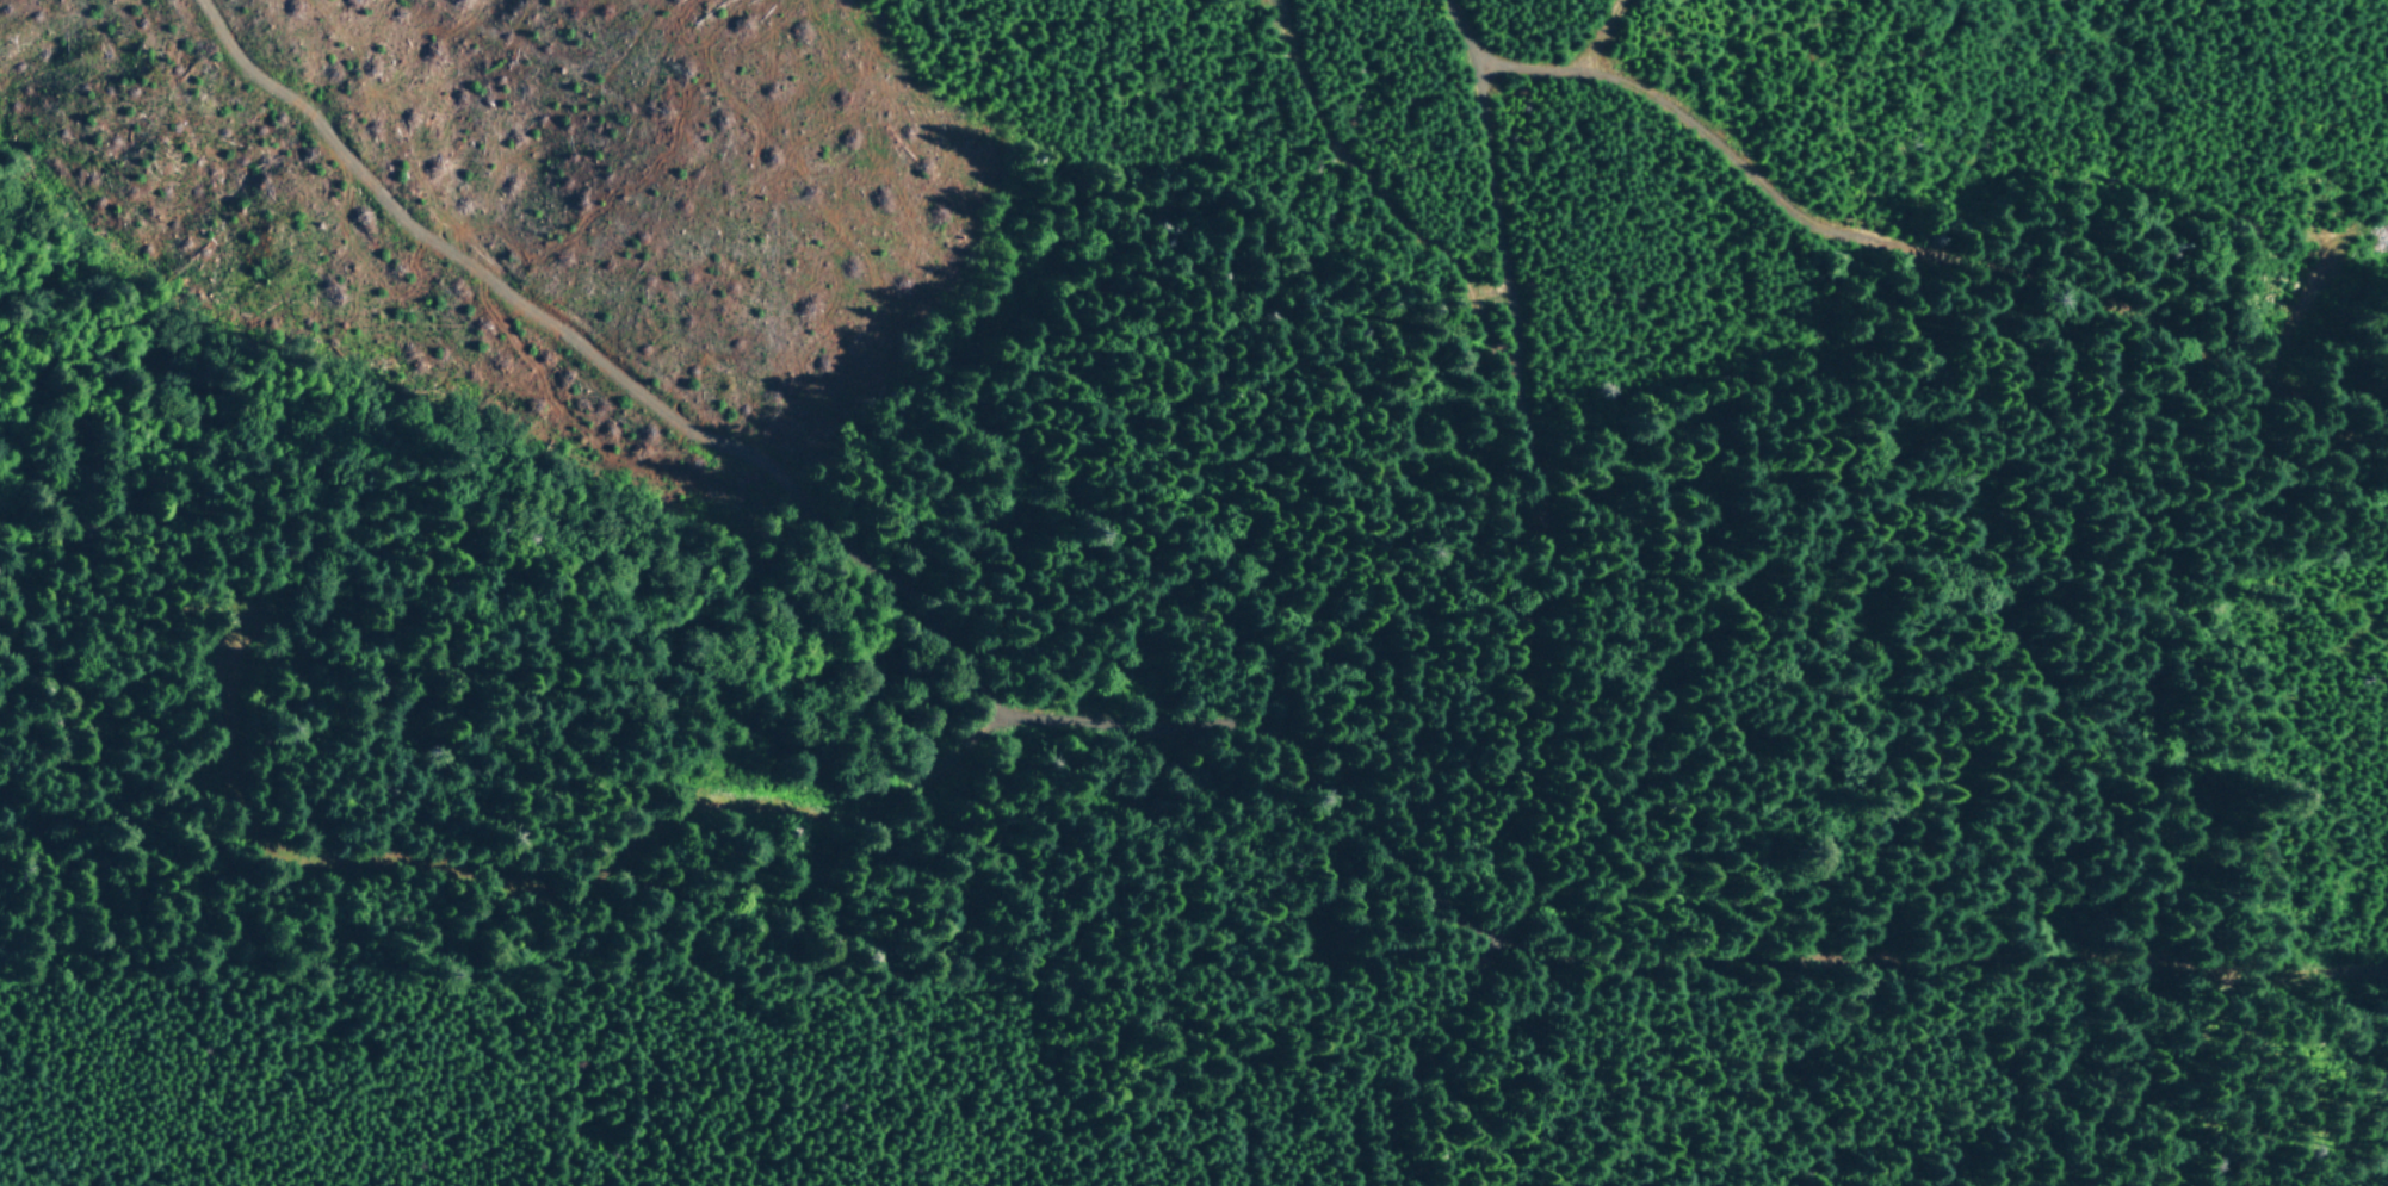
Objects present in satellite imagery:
road: (1375, 197)
road: (1928, 260)
road: (1559, 607)
road: (1013, 707)
road: (1956, 977)
road: (732, 1019)
road: (2380, 1169)

